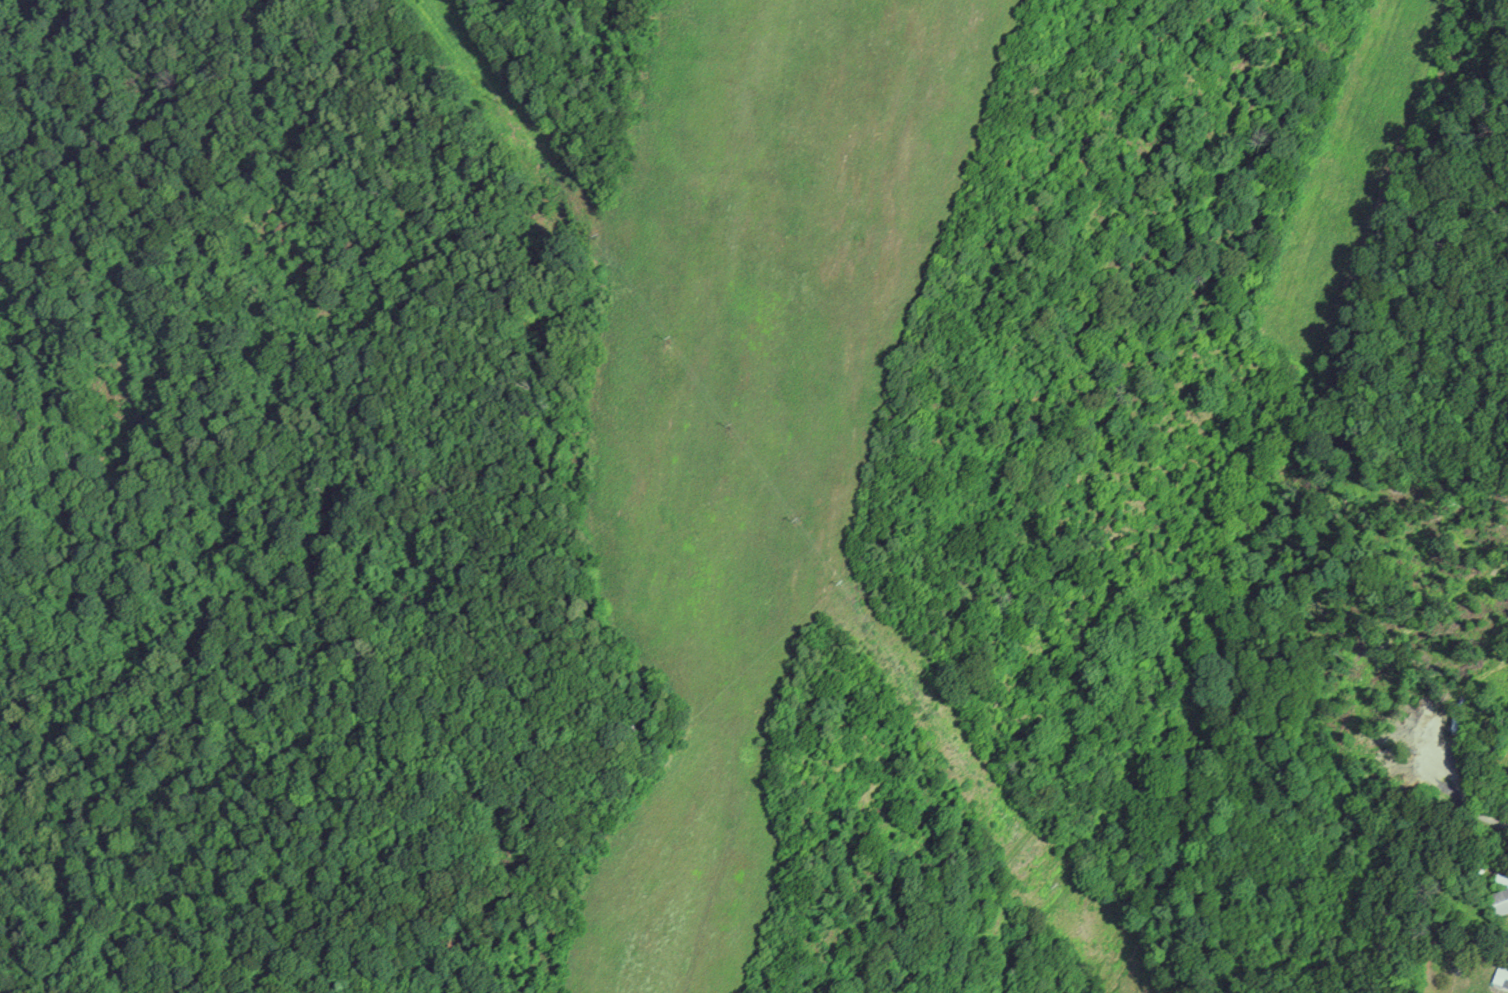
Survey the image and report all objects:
road: (1374, 241)
road: (1194, 834)
building: (1500, 902)
building: (1501, 978)

